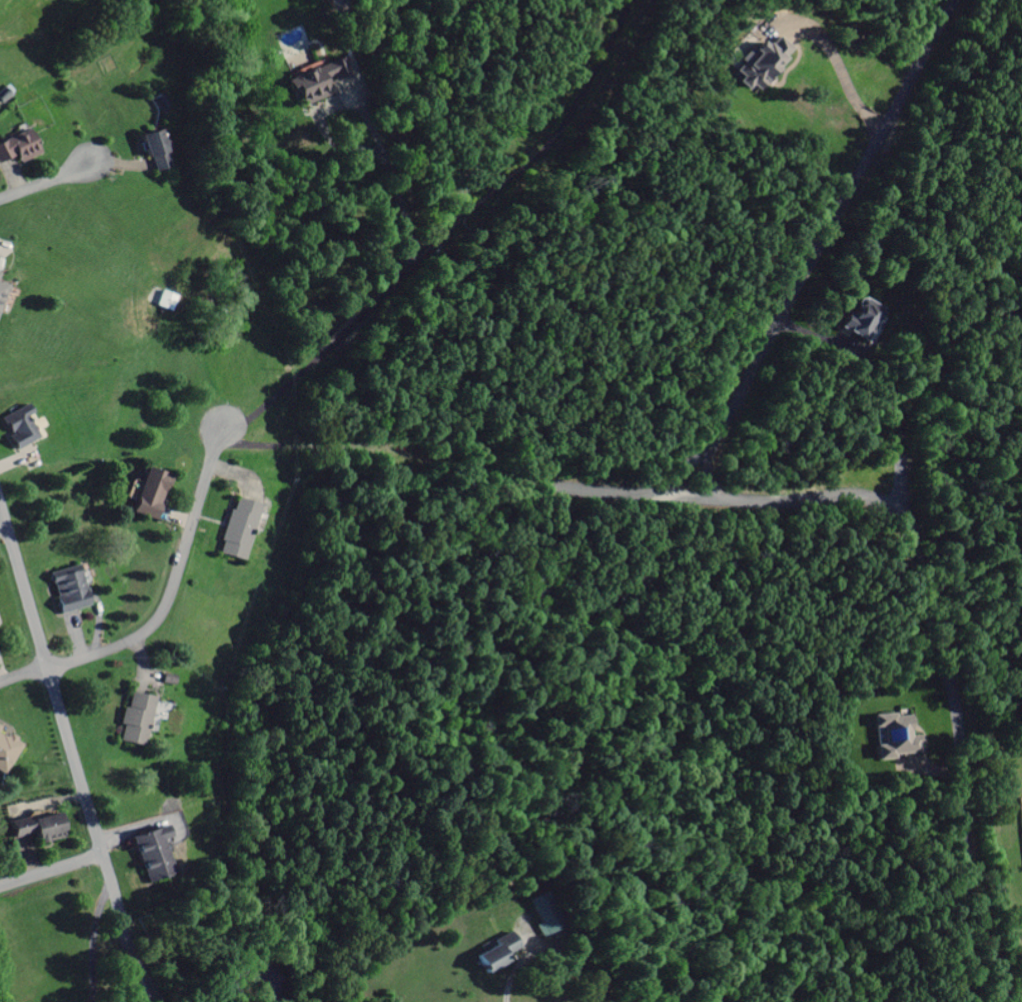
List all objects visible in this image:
building: (759, 64)
building: (311, 85)
building: (16, 148)
building: (148, 152)
road: (43, 183)
road: (822, 253)
building: (1, 290)
building: (863, 320)
building: (16, 432)
road: (708, 464)
road: (467, 465)
building: (147, 495)
building: (233, 531)
road: (172, 588)
building: (66, 594)
road: (946, 652)
road: (24, 676)
building: (133, 721)
building: (0, 728)
building: (893, 739)
building: (7, 753)
road: (73, 754)
building: (42, 831)
building: (146, 857)
road: (51, 868)
building: (543, 913)

